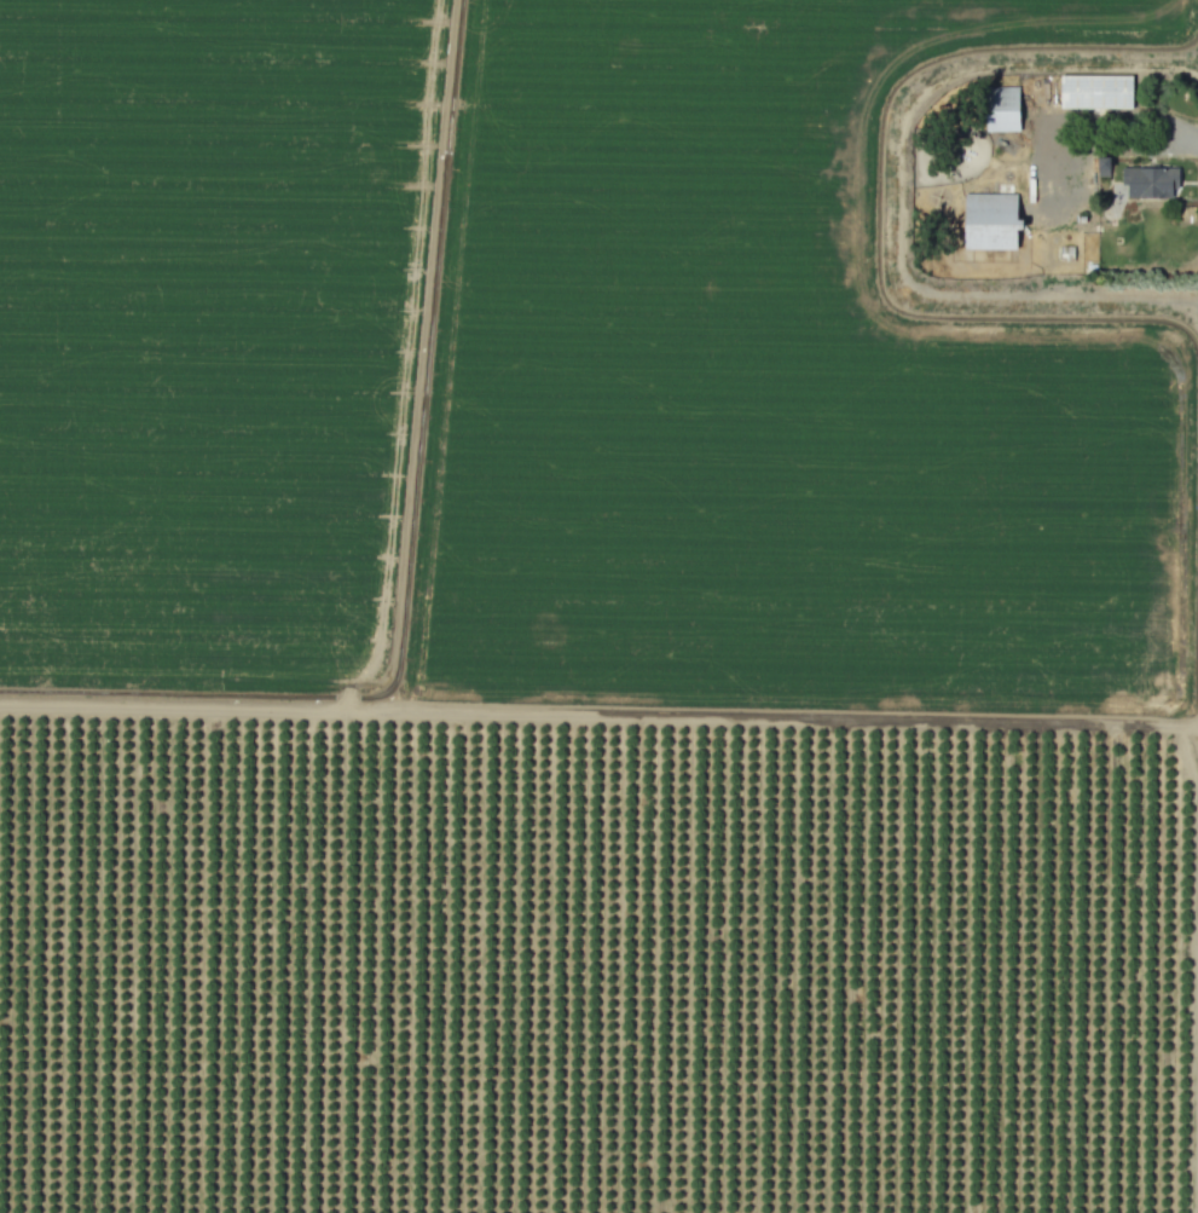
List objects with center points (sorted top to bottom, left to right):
building: (1094, 91)
building: (1001, 109)
road: (1100, 144)
building: (1153, 181)
building: (989, 221)

